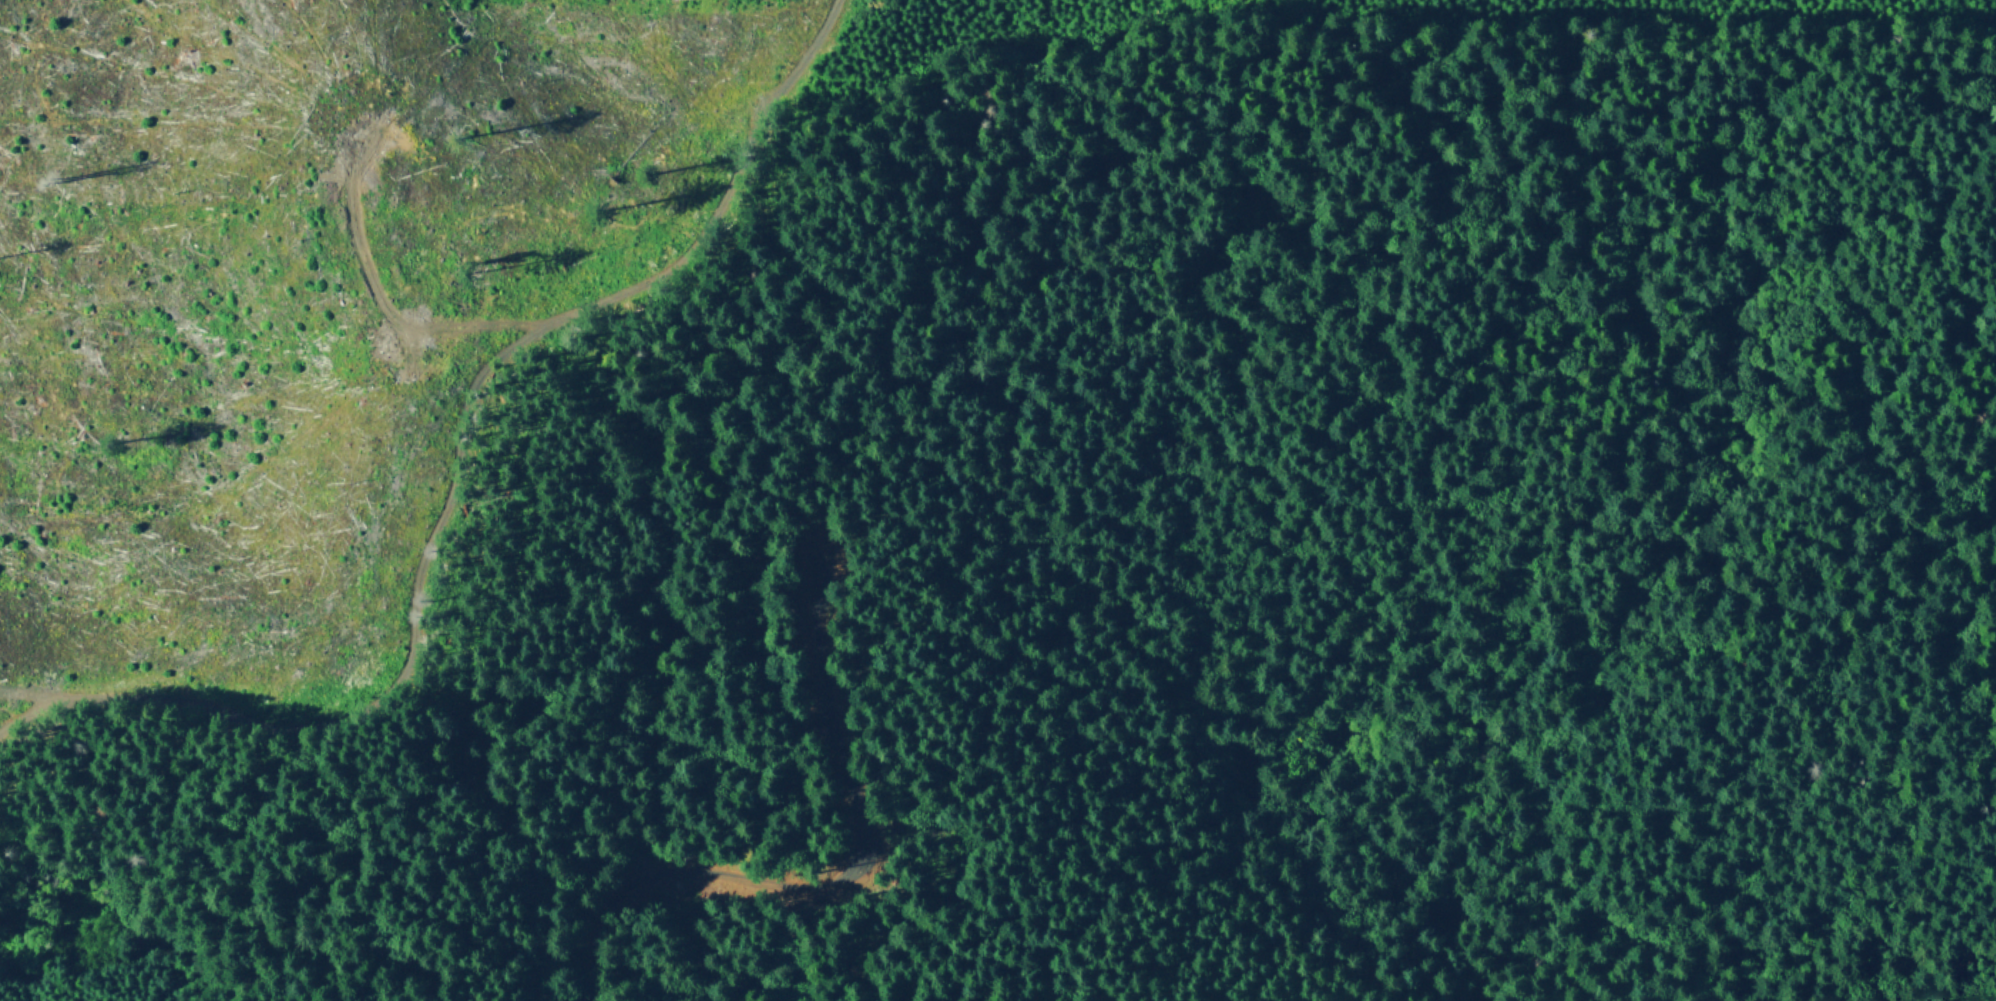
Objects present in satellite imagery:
road: (432, 481)

